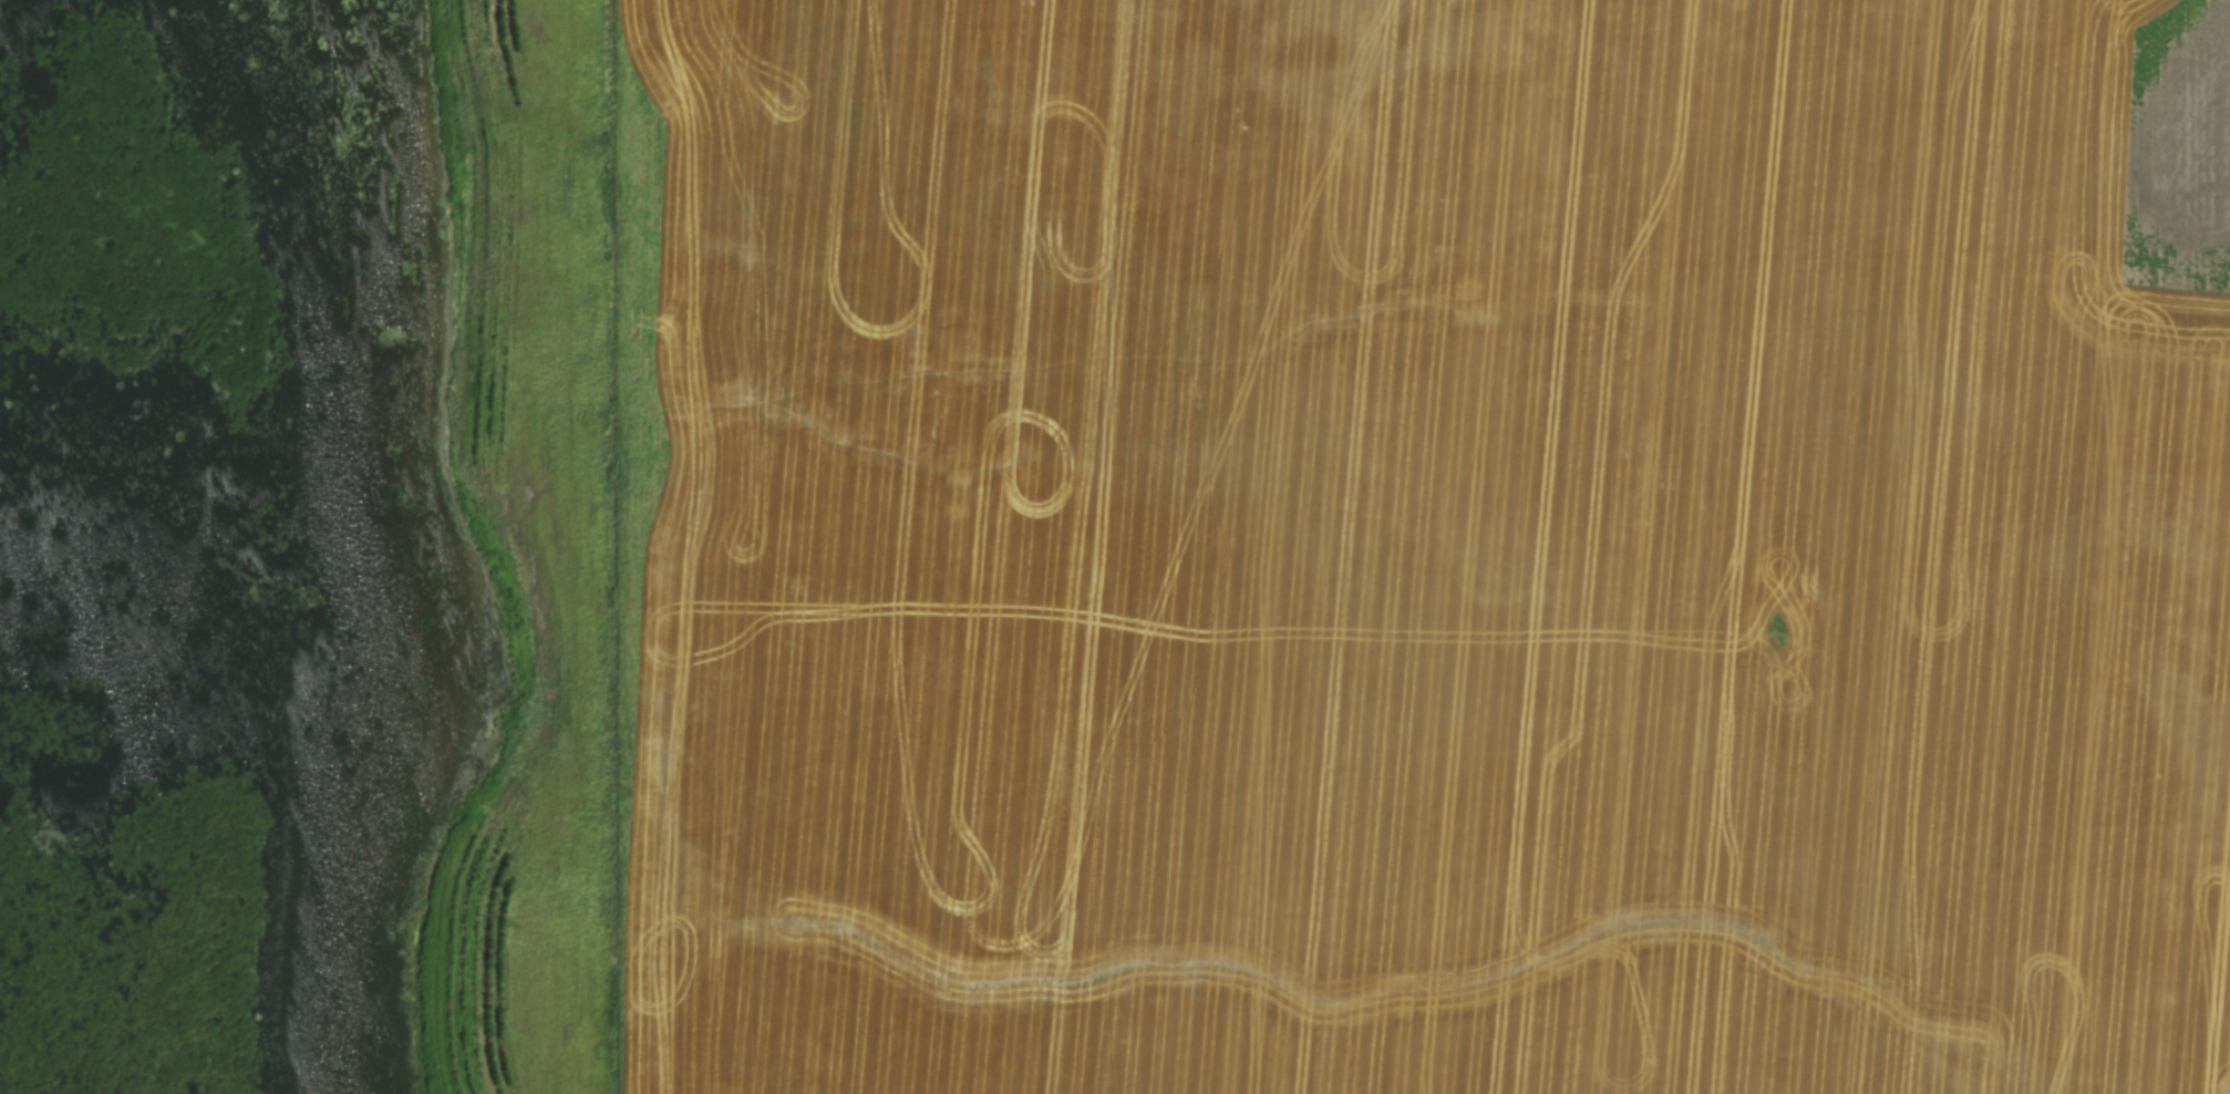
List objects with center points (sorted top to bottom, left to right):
crop: (1428, 547)

